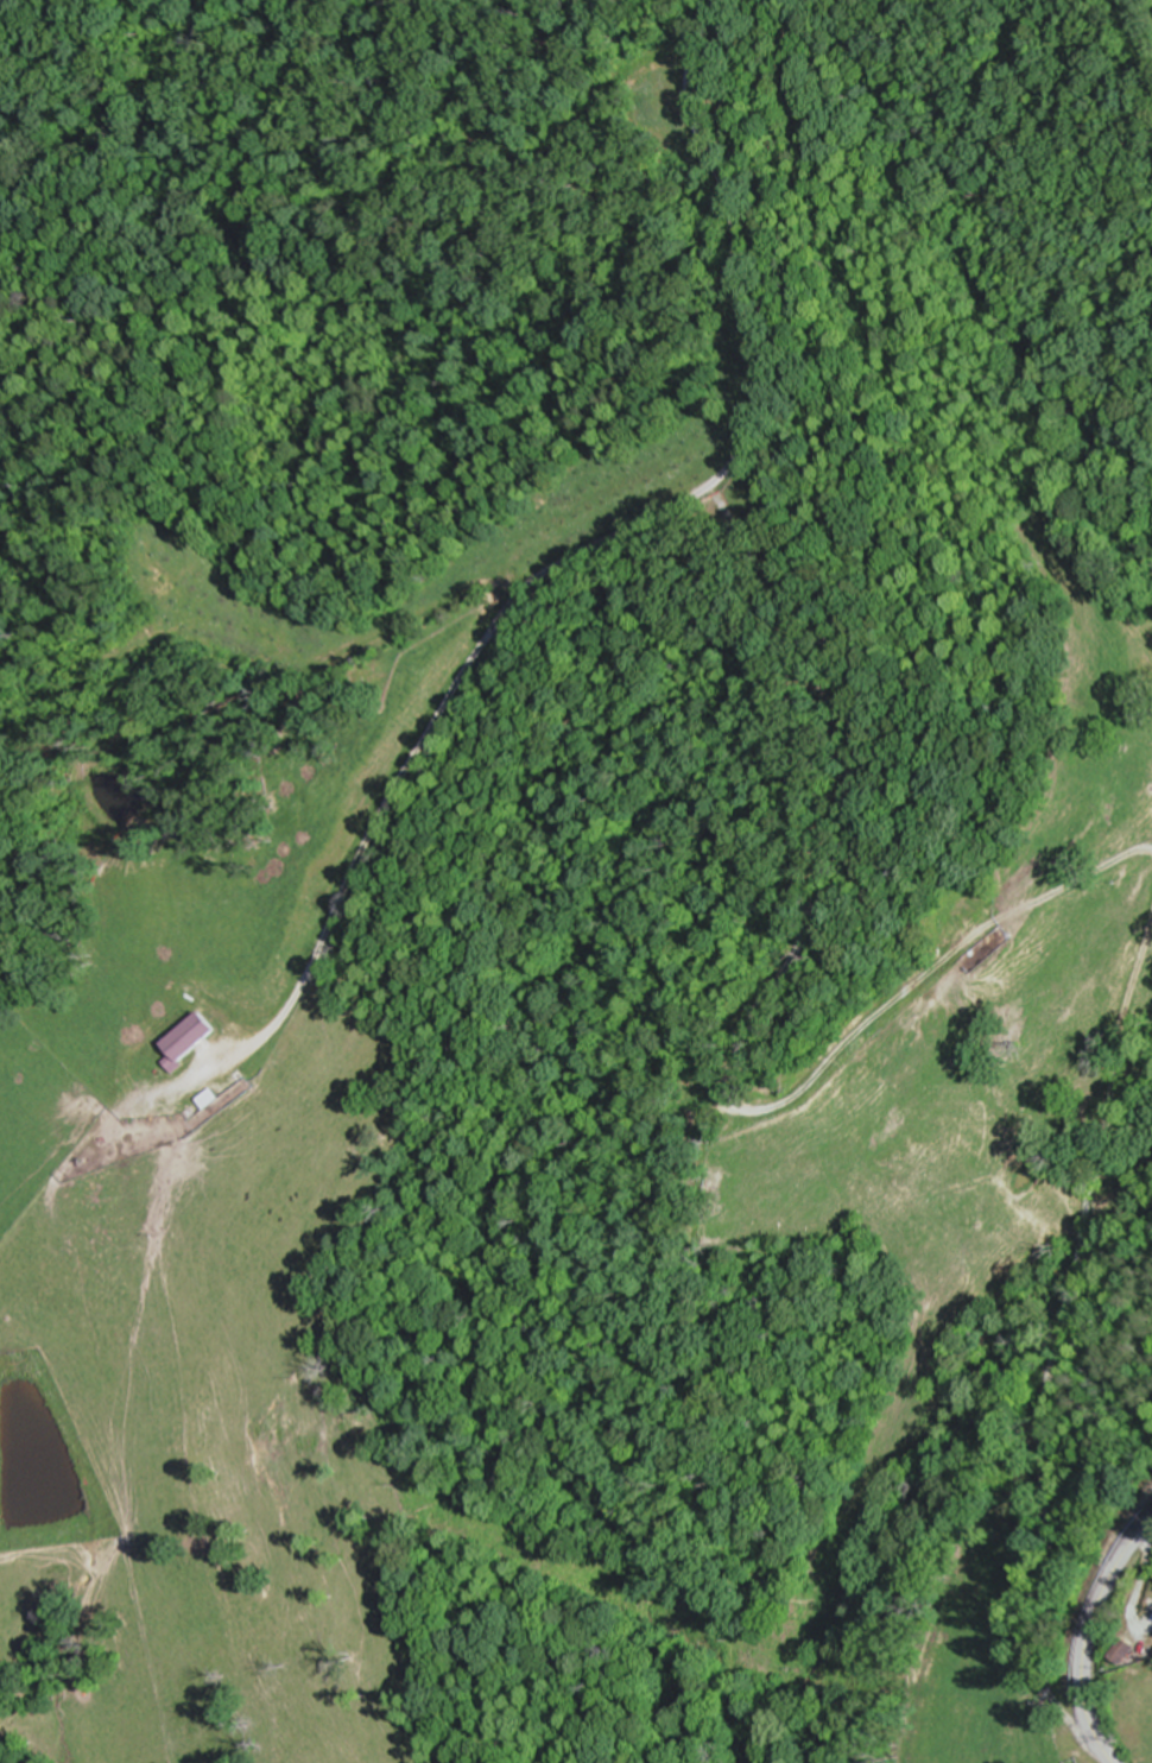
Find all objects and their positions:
road: (1140, 31)
road: (773, 354)
building: (1125, 779)
road: (1075, 885)
building: (189, 1038)
road: (1058, 1337)
road: (1090, 1636)
building: (1127, 1653)

